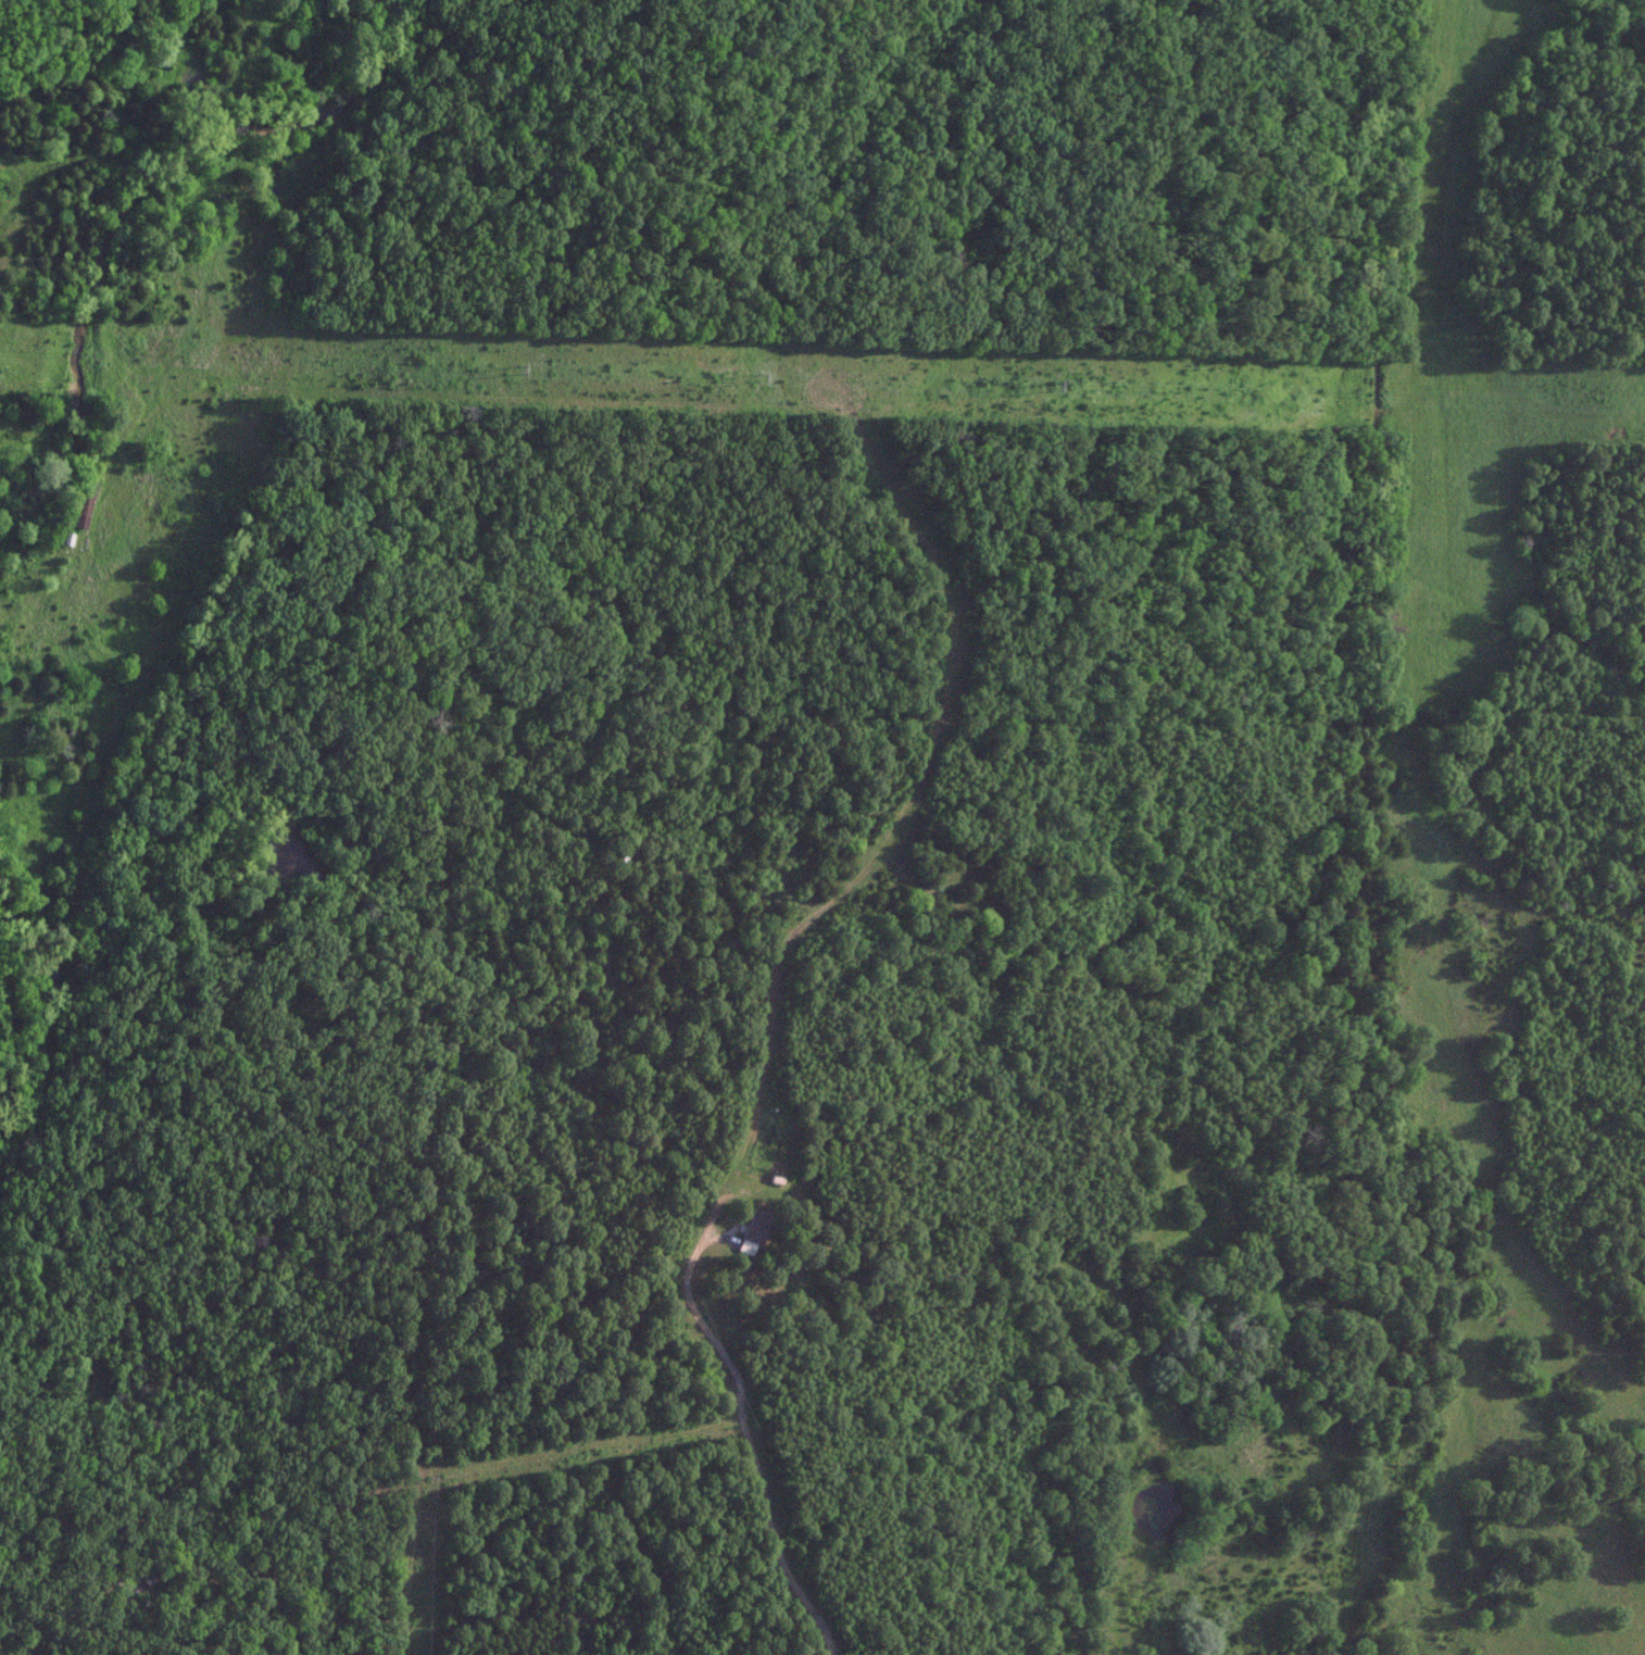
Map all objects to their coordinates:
power tower: (510, 367)
power tower: (750, 371)
power tower: (1041, 374)
building: (81, 507)
building: (756, 1226)

